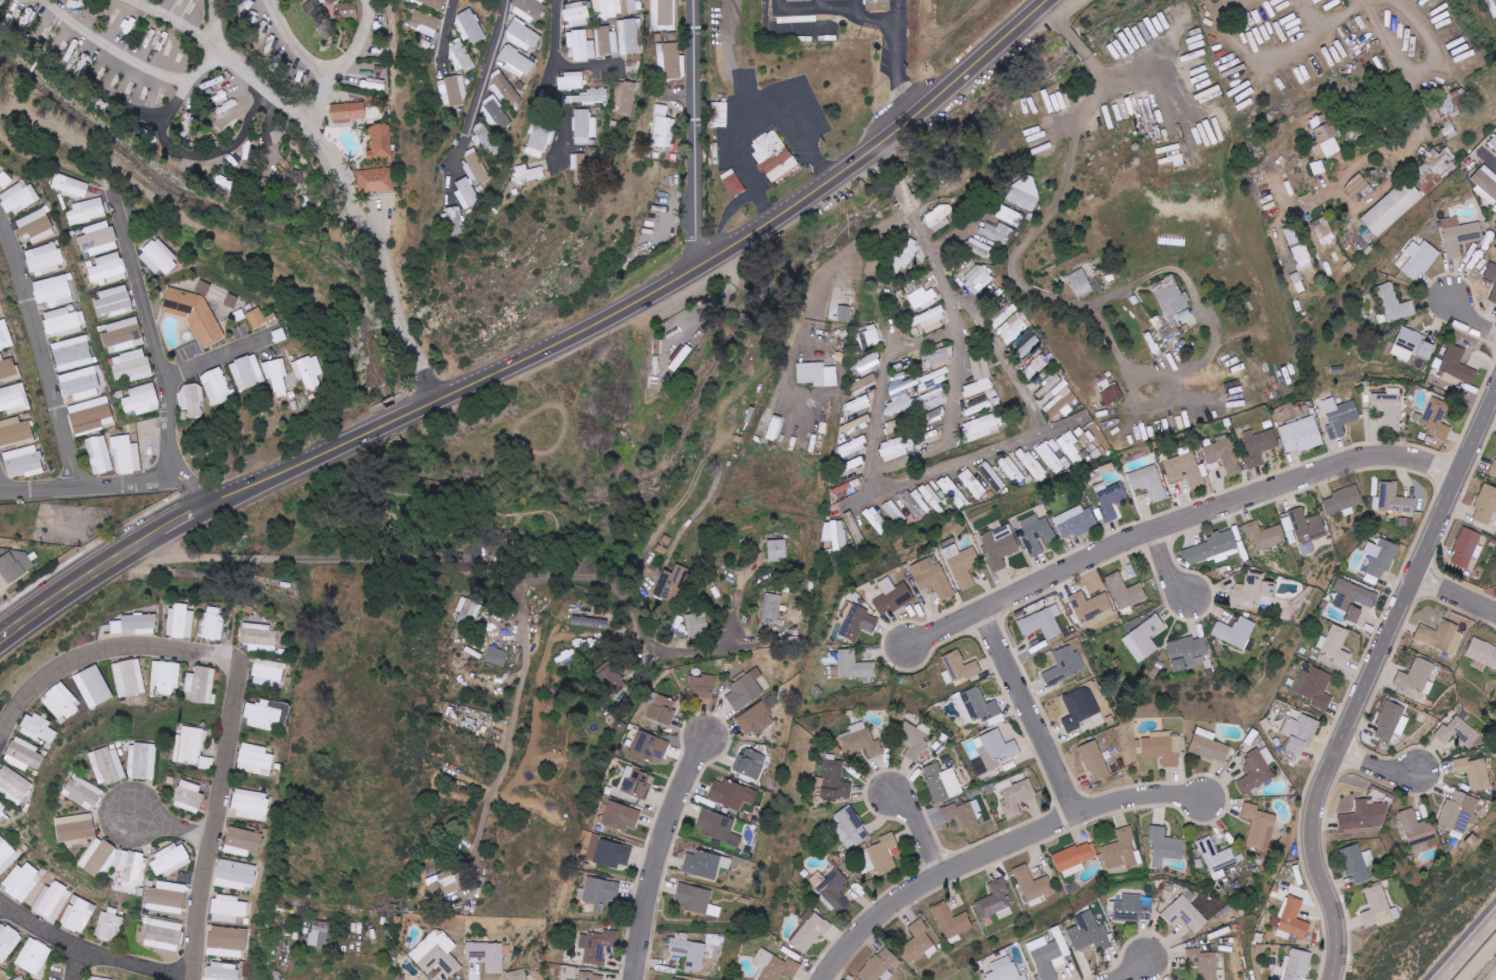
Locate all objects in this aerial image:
building: (579, 0)
building: (432, 3)
building: (879, 4)
building: (634, 6)
building: (1492, 6)
road: (838, 8)
building: (528, 9)
building: (608, 9)
road: (897, 11)
building: (317, 12)
building: (664, 15)
building: (577, 16)
road: (1307, 16)
road: (1337, 17)
road: (214, 22)
building: (425, 23)
road: (476, 23)
building: (470, 26)
building: (328, 31)
building: (522, 35)
road: (614, 35)
building: (630, 37)
road: (295, 40)
building: (607, 43)
building: (581, 46)
road: (116, 49)
road: (732, 52)
road: (227, 55)
building: (461, 56)
building: (669, 60)
road: (344, 61)
road: (1244, 61)
building: (516, 62)
road: (1414, 70)
road: (900, 72)
building: (570, 82)
road: (562, 83)
building: (505, 90)
building: (454, 92)
road: (482, 94)
building: (597, 97)
road: (754, 99)
building: (626, 100)
building: (1449, 107)
building: (348, 111)
building: (498, 114)
building: (719, 115)
building: (584, 128)
building: (663, 128)
road: (701, 134)
building: (485, 137)
building: (1325, 138)
building: (381, 142)
building: (539, 142)
building: (1493, 144)
road: (184, 147)
building: (773, 155)
road: (1372, 156)
road: (1489, 158)
building: (580, 164)
building: (477, 169)
building: (528, 175)
building: (5, 180)
building: (376, 180)
building: (299, 181)
building: (1485, 182)
building: (733, 183)
building: (71, 185)
road: (348, 185)
building: (1361, 189)
building: (467, 194)
building: (19, 197)
building: (1022, 199)
building: (1393, 208)
building: (87, 211)
building: (1010, 216)
building: (939, 218)
building: (455, 221)
building: (35, 226)
building: (1323, 231)
building: (998, 232)
road: (1032, 232)
building: (1460, 236)
building: (98, 239)
building: (979, 247)
building: (1298, 248)
building: (905, 256)
building: (45, 258)
building: (159, 258)
building: (1420, 259)
road: (837, 265)
building: (108, 268)
building: (1491, 273)
building: (978, 279)
building: (1083, 284)
building: (204, 287)
building: (53, 290)
road: (956, 296)
building: (1493, 296)
building: (922, 298)
building: (231, 300)
building: (114, 301)
road: (397, 302)
building: (1394, 305)
building: (1171, 309)
building: (194, 313)
building: (844, 313)
road: (1467, 313)
building: (1004, 314)
building: (256, 317)
building: (931, 319)
building: (63, 322)
building: (1012, 330)
building: (5, 335)
building: (123, 335)
building: (869, 337)
building: (1415, 343)
road: (161, 344)
building: (1026, 345)
road: (544, 349)
building: (72, 353)
road: (43, 354)
building: (939, 357)
road: (217, 358)
building: (980, 365)
building: (1038, 365)
building: (1457, 365)
building: (131, 366)
road: (887, 368)
building: (8, 369)
building: (309, 371)
building: (247, 372)
building: (817, 374)
building: (276, 375)
building: (80, 383)
building: (216, 386)
building: (978, 387)
building: (1112, 394)
building: (192, 398)
building: (932, 398)
building: (142, 399)
building: (1060, 402)
building: (858, 404)
building: (977, 406)
building: (89, 414)
building: (1436, 419)
building: (981, 427)
building: (773, 428)
road: (952, 428)
building: (15, 432)
building: (1302, 435)
building: (1070, 445)
building: (1258, 445)
building: (853, 447)
building: (896, 448)
building: (99, 454)
building: (126, 455)
building: (1224, 455)
building: (1050, 456)
building: (23, 461)
building: (1032, 464)
road: (973, 465)
building: (1494, 468)
building: (1012, 469)
building: (1185, 470)
building: (992, 476)
building: (1149, 482)
building: (972, 483)
road: (2, 487)
building: (847, 487)
road: (116, 488)
road: (1464, 490)
building: (953, 491)
building: (933, 498)
building: (1394, 499)
building: (1110, 501)
building: (1344, 501)
building: (917, 503)
building: (1486, 505)
building: (895, 512)
building: (850, 519)
building: (1077, 521)
road: (1178, 524)
building: (1303, 527)
building: (835, 534)
building: (1037, 534)
building: (1264, 535)
building: (999, 546)
building: (1467, 547)
building: (1213, 548)
building: (777, 550)
building: (1380, 556)
road: (643, 564)
building: (962, 565)
building: (16, 566)
building: (923, 566)
road: (1170, 566)
road: (476, 567)
road: (1155, 569)
building: (936, 582)
road: (1463, 583)
building: (672, 584)
building: (1254, 591)
building: (1126, 593)
building: (893, 596)
road: (1455, 596)
building: (1353, 598)
road: (1456, 605)
building: (772, 608)
building: (1092, 608)
building: (469, 611)
road: (7, 621)
building: (181, 621)
building: (856, 621)
building: (590, 622)
building: (1042, 622)
building: (139, 623)
road: (919, 623)
building: (212, 624)
building: (700, 625)
building: (1235, 632)
building: (259, 637)
building: (1442, 637)
building: (1144, 638)
building: (1335, 647)
building: (1188, 652)
building: (1482, 653)
building: (496, 656)
building: (1065, 665)
building: (852, 666)
building: (959, 667)
building: (269, 673)
building: (166, 676)
building: (610, 676)
building: (1416, 676)
building: (129, 678)
road: (245, 679)
road: (1369, 679)
building: (201, 684)
building: (93, 686)
building: (702, 686)
building: (1315, 687)
building: (746, 690)
building: (61, 702)
building: (979, 707)
building: (1080, 708)
building: (661, 709)
road: (1033, 713)
building: (262, 716)
building: (755, 719)
building: (1390, 721)
building: (38, 728)
building: (1300, 732)
building: (1458, 732)
building: (914, 740)
building: (863, 743)
road: (510, 744)
building: (191, 745)
building: (650, 746)
building: (1209, 746)
building: (1163, 747)
building: (995, 749)
building: (24, 754)
building: (255, 760)
building: (1095, 760)
building: (206, 763)
building: (751, 763)
building: (107, 765)
road: (1376, 766)
building: (1256, 771)
building: (1474, 773)
building: (835, 780)
building: (942, 782)
building: (14, 785)
building: (82, 792)
building: (732, 794)
road: (1419, 795)
building: (189, 796)
building: (1015, 796)
building: (251, 804)
building: (2, 808)
building: (1459, 812)
building: (964, 814)
building: (621, 816)
building: (1365, 816)
building: (851, 826)
building: (718, 827)
road: (922, 827)
building: (1259, 827)
road: (174, 828)
building: (75, 829)
building: (1418, 831)
building: (242, 841)
building: (1165, 846)
road: (668, 849)
road: (1000, 849)
building: (611, 852)
building: (1122, 853)
building: (884, 855)
building: (7, 856)
building: (99, 857)
building: (1217, 858)
building: (1073, 859)
building: (170, 860)
building: (1357, 862)
building: (705, 864)
building: (132, 868)
building: (236, 875)
building: (23, 881)
building: (446, 883)
building: (1033, 886)
building: (835, 891)
building: (600, 893)
building: (167, 897)
building: (52, 900)
building: (696, 900)
building: (996, 901)
road: (3, 905)
building: (1378, 908)
building: (228, 909)
building: (1132, 909)
building: (1186, 912)
building: (78, 914)
building: (1293, 921)
building: (953, 923)
building: (110, 924)
building: (319, 933)
building: (811, 933)
building: (1089, 933)
building: (164, 934)
road: (1138, 937)
building: (7, 942)
building: (227, 942)
building: (918, 942)
building: (597, 945)
road: (90, 948)
building: (691, 951)
building: (436, 954)
building: (488, 955)
building: (33, 956)
building: (892, 959)
road: (1477, 959)
building: (1203, 963)
road: (86, 964)
building: (1297, 965)
building: (777, 967)
building: (1005, 970)
road: (1130, 970)
building: (221, 971)
building: (877, 971)
building: (1281, 974)
building: (518, 975)
building: (590, 976)
building: (100, 978)
building: (21, 979)
building: (673, 979)

